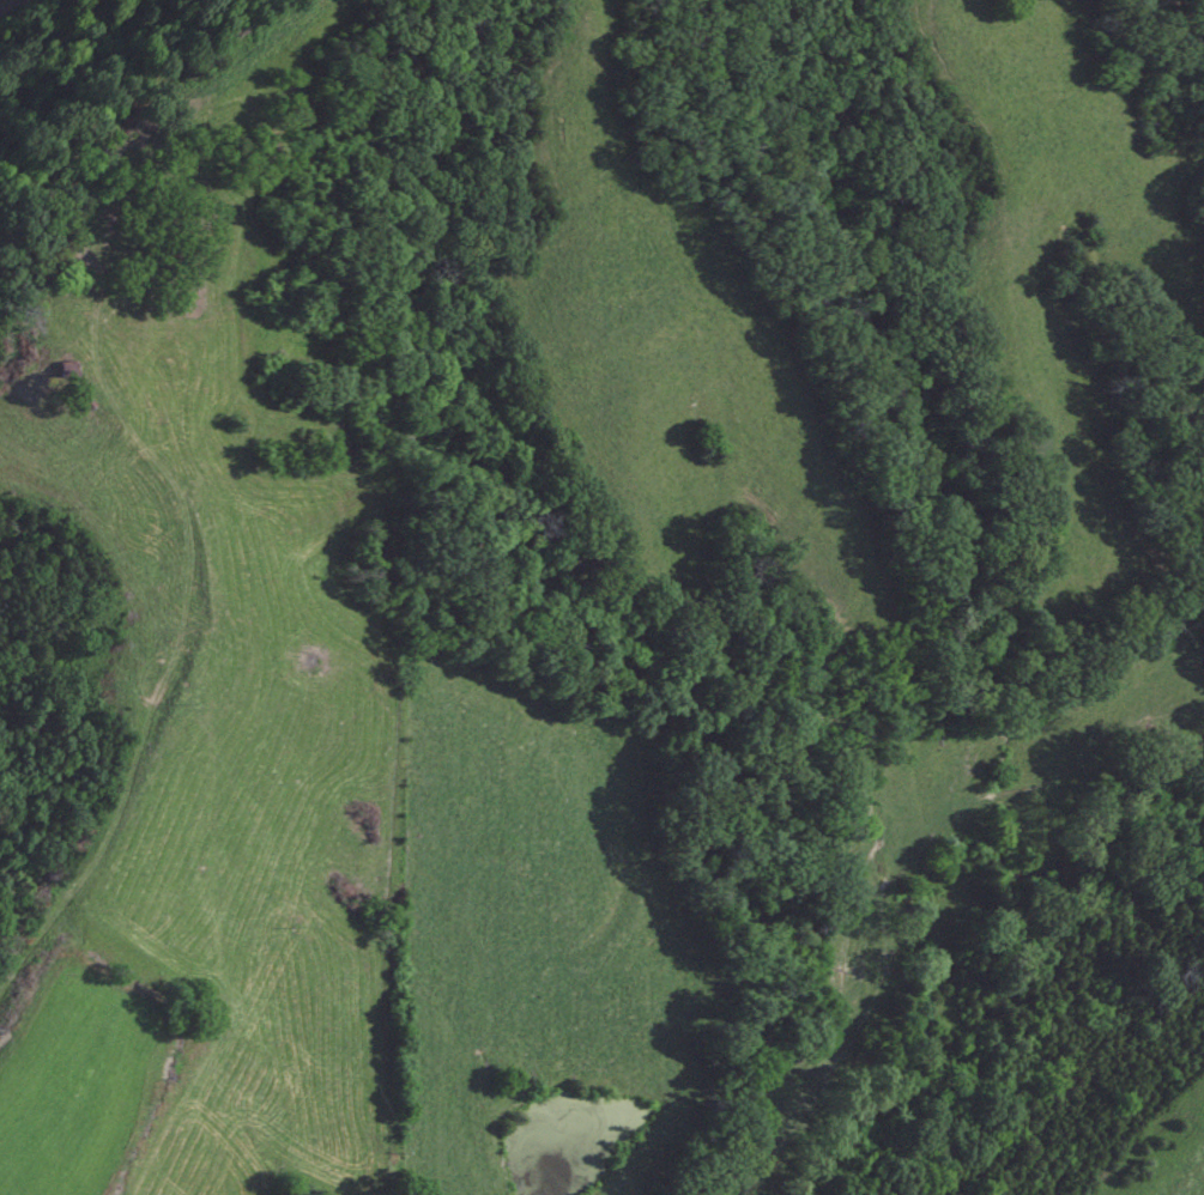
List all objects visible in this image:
railway: (0, 0)

